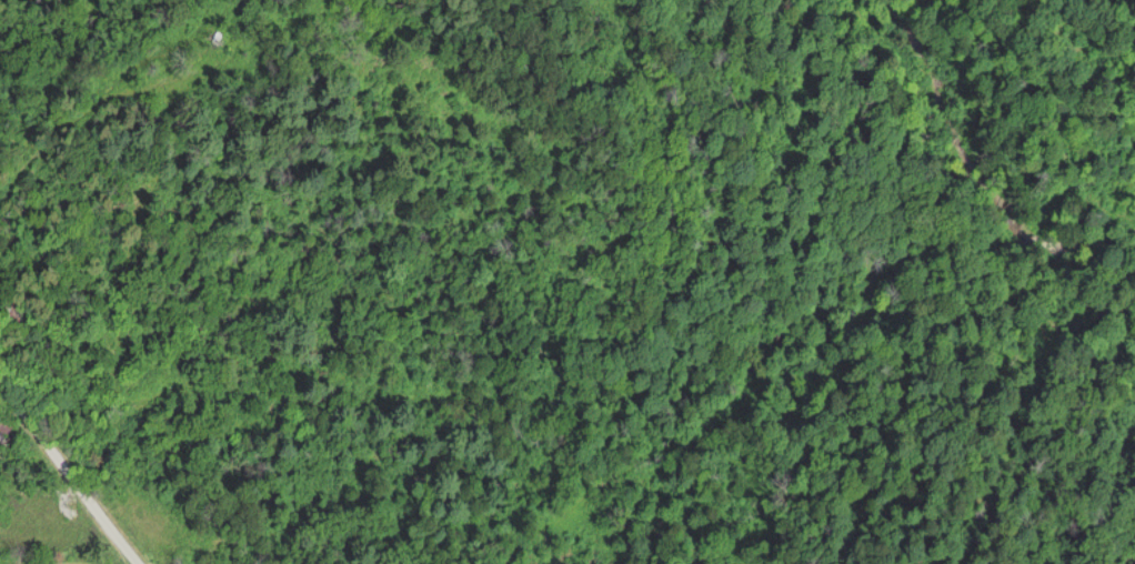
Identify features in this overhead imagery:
building: (2, 429)
road: (73, 476)

